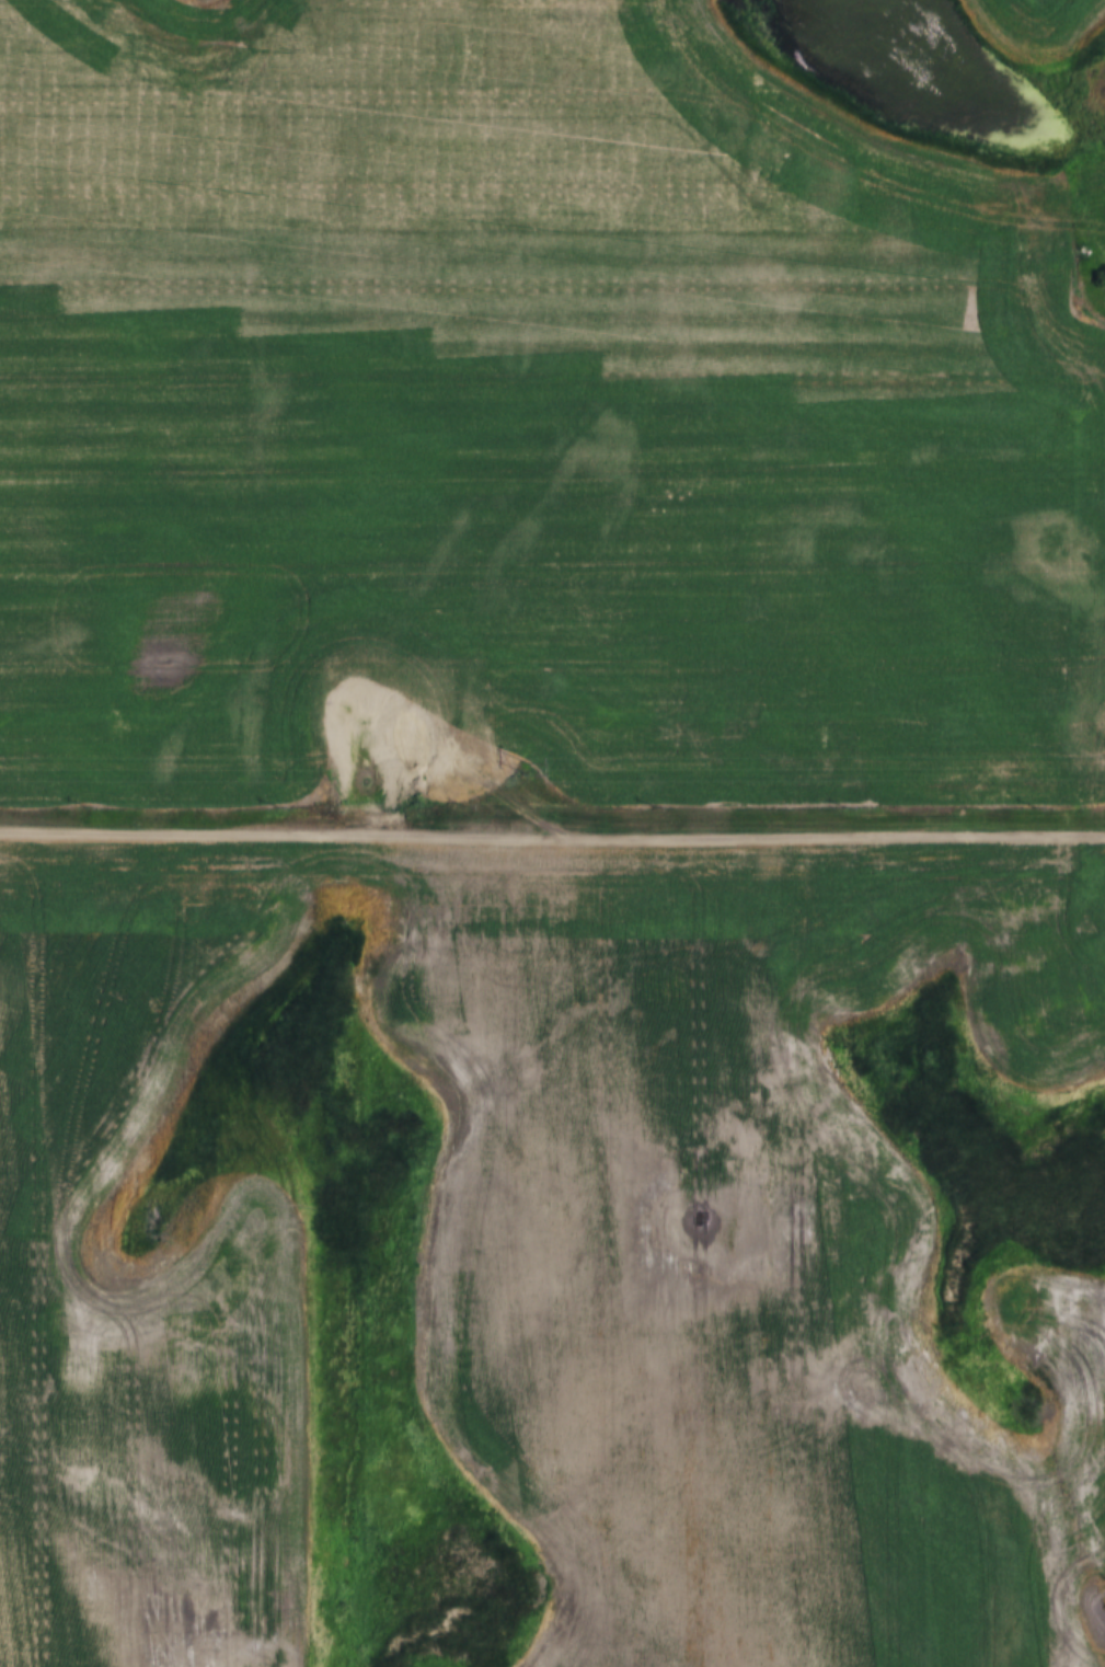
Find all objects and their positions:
road: (552, 839)

